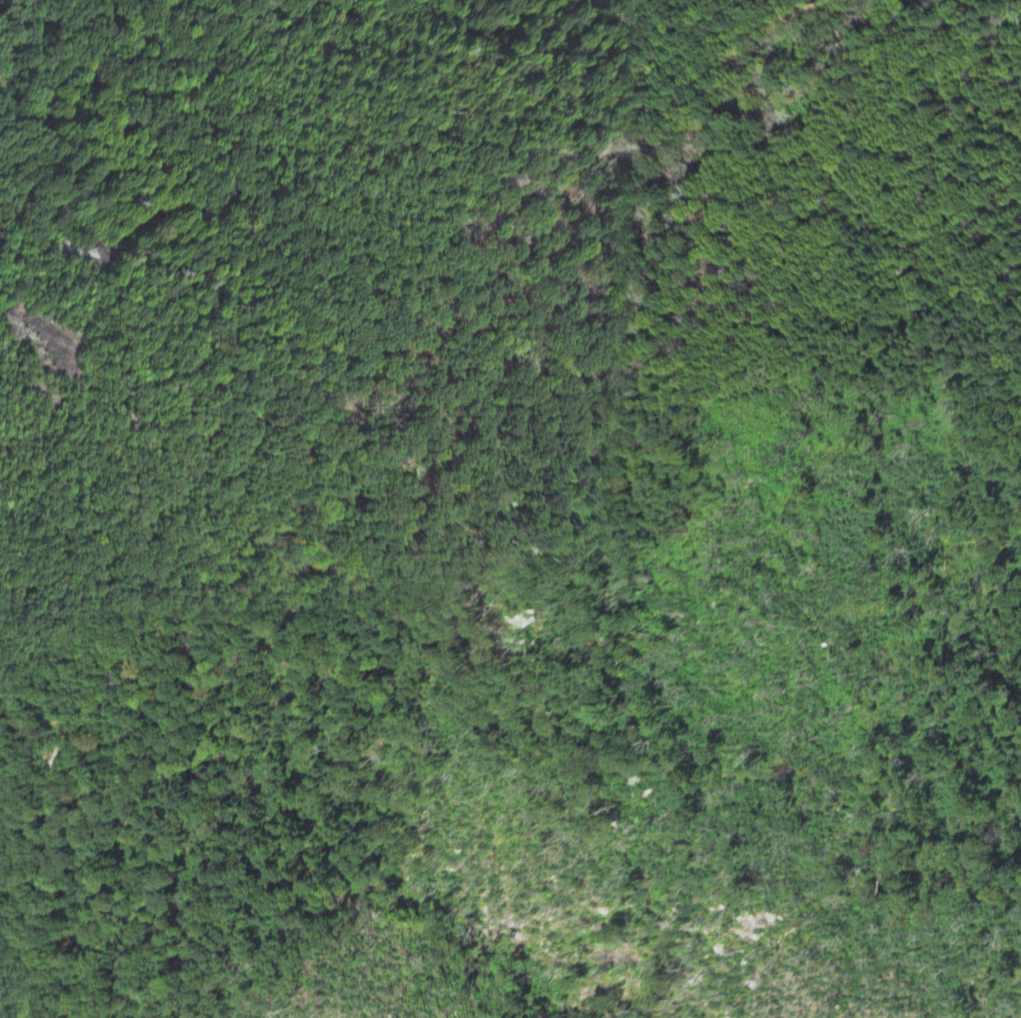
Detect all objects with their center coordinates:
park: (613, 414)
park: (15, 994)

